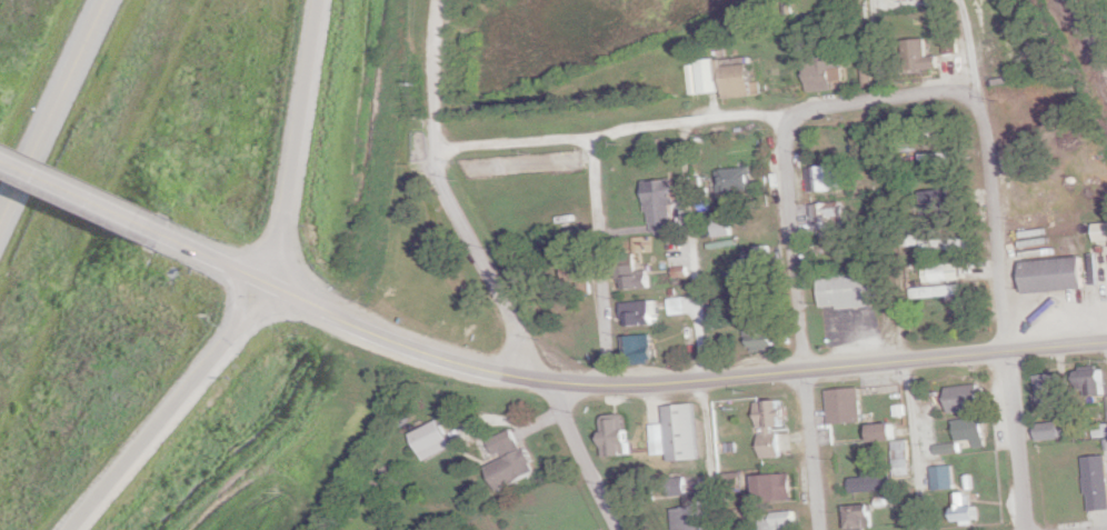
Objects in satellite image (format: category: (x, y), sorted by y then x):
railway: (1088, 39)
building: (953, 43)
road: (977, 49)
building: (922, 56)
building: (821, 73)
building: (726, 77)
road: (420, 81)
road: (884, 102)
road: (53, 112)
road: (605, 134)
road: (292, 141)
building: (827, 179)
building: (736, 180)
road: (62, 189)
building: (937, 201)
building: (660, 206)
building: (827, 214)
building: (721, 227)
building: (1100, 231)
building: (947, 243)
building: (759, 259)
road: (596, 261)
road: (218, 262)
road: (285, 262)
building: (680, 267)
building: (576, 271)
building: (939, 272)
building: (1058, 274)
building: (634, 277)
building: (856, 290)
building: (938, 291)
building: (764, 294)
building: (715, 304)
building: (678, 306)
road: (233, 308)
road: (261, 308)
building: (641, 313)
road: (1003, 314)
road: (900, 316)
road: (332, 319)
road: (798, 323)
road: (697, 329)
building: (762, 333)
road: (522, 344)
building: (638, 347)
road: (727, 374)
building: (1093, 381)
building: (1051, 391)
building: (967, 398)
building: (847, 407)
building: (772, 429)
building: (973, 431)
building: (1050, 431)
building: (684, 432)
road: (143, 434)
building: (615, 436)
building: (430, 440)
building: (895, 447)
building: (511, 462)
building: (945, 478)
building: (1097, 482)
building: (872, 483)
building: (774, 488)
building: (647, 490)
building: (967, 510)
building: (690, 518)
building: (861, 518)
building: (779, 521)

